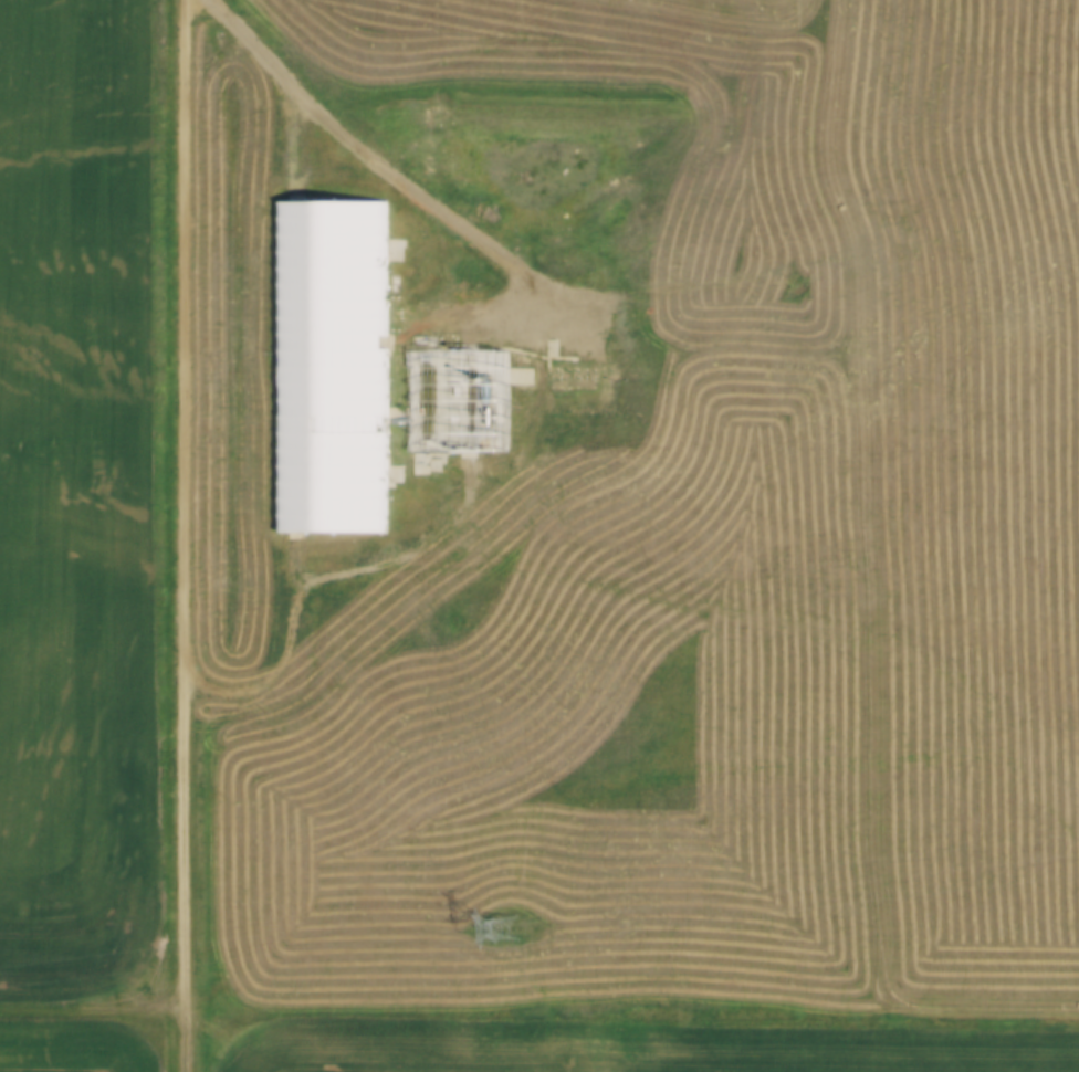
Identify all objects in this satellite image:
building: (649, 317)
building: (319, 329)
building: (573, 376)
building: (461, 398)
road: (189, 536)
power tower: (504, 934)
road: (95, 1010)

